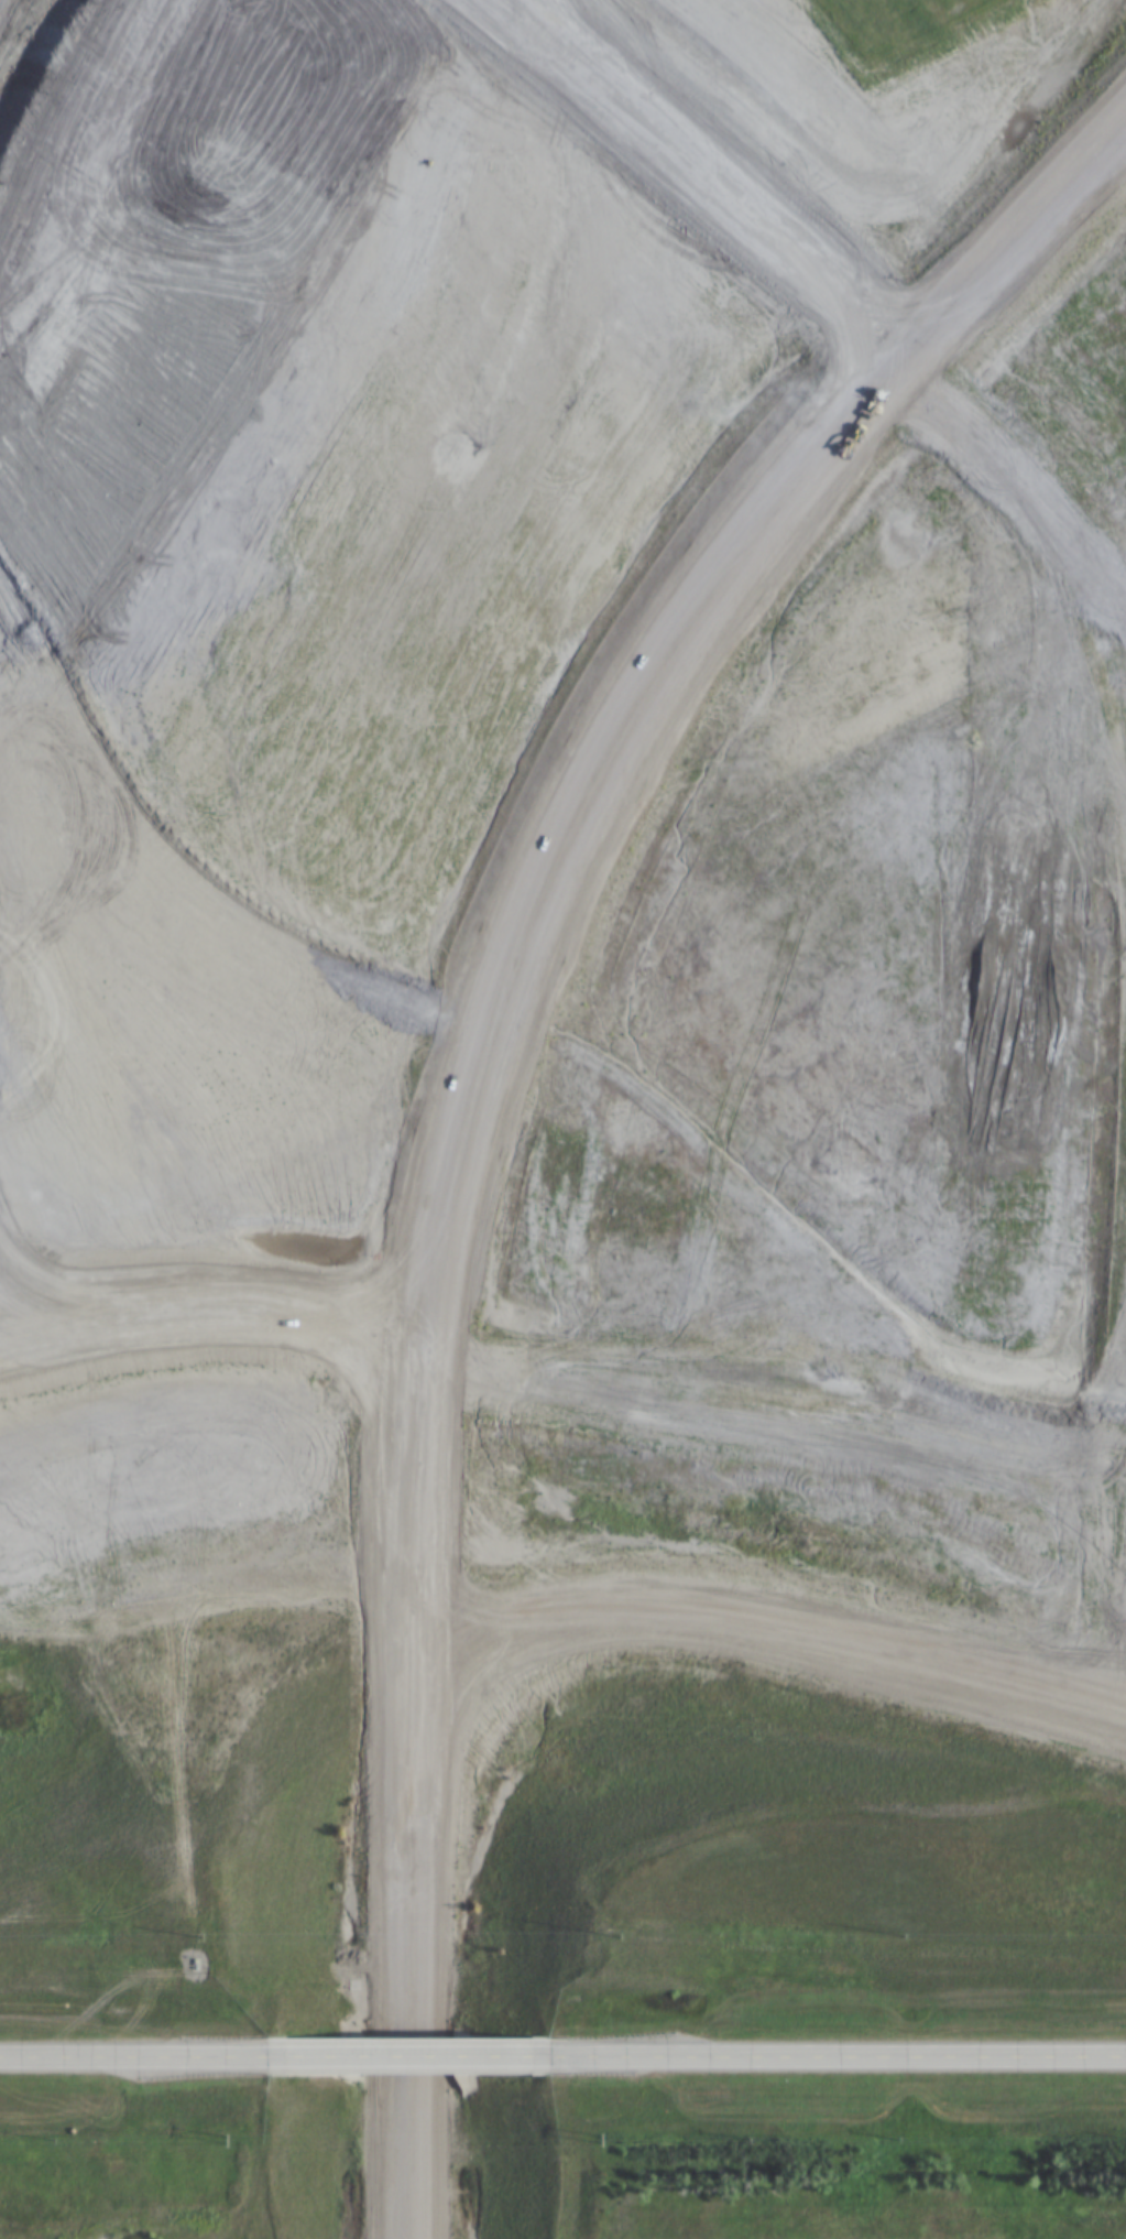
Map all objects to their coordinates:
road: (131, 2055)
road: (405, 2055)
road: (837, 2055)
quarry: (533, 2224)

